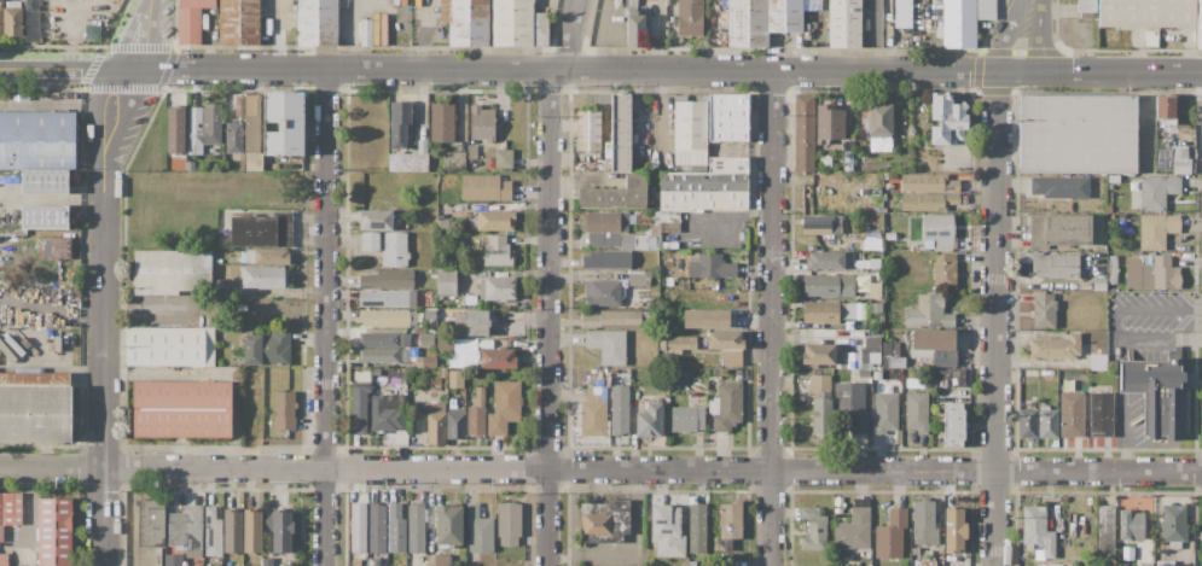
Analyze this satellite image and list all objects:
building: (1086, 5)
building: (985, 10)
building: (902, 13)
building: (1146, 13)
building: (784, 16)
building: (12, 17)
building: (690, 18)
building: (1, 21)
building: (30, 21)
building: (190, 21)
building: (239, 22)
building: (318, 22)
building: (468, 22)
building: (747, 23)
building: (844, 23)
building: (959, 23)
building: (518, 24)
building: (1198, 24)
building: (634, 25)
building: (366, 31)
road: (141, 35)
road: (1028, 41)
road: (140, 47)
road: (82, 53)
road: (164, 68)
road: (91, 69)
road: (63, 70)
road: (561, 71)
road: (1098, 72)
road: (121, 88)
building: (238, 106)
building: (1166, 109)
building: (727, 118)
building: (946, 118)
building: (442, 121)
building: (879, 121)
building: (250, 122)
building: (284, 123)
building: (482, 123)
building: (829, 123)
building: (400, 124)
building: (207, 127)
building: (175, 128)
building: (588, 130)
building: (621, 132)
building: (691, 133)
building: (803, 133)
building: (1076, 134)
building: (233, 136)
building: (36, 140)
building: (472, 151)
building: (504, 158)
building: (252, 161)
building: (454, 161)
building: (407, 162)
building: (1181, 167)
building: (45, 181)
building: (928, 182)
building: (1059, 186)
building: (484, 187)
building: (707, 187)
building: (870, 191)
building: (1157, 191)
building: (615, 194)
road: (52, 198)
building: (928, 202)
building: (871, 206)
building: (45, 217)
building: (377, 220)
building: (494, 220)
building: (606, 222)
building: (669, 222)
building: (821, 223)
building: (939, 229)
building: (1059, 229)
building: (1157, 229)
building: (261, 231)
building: (664, 237)
building: (604, 239)
building: (370, 241)
building: (638, 241)
building: (669, 245)
building: (872, 245)
building: (58, 249)
building: (394, 250)
building: (42, 251)
building: (498, 251)
building: (265, 256)
building: (608, 259)
building: (830, 261)
building: (873, 263)
building: (448, 264)
building: (1055, 266)
building: (712, 267)
building: (1113, 269)
building: (172, 272)
building: (219, 272)
building: (943, 272)
building: (1166, 273)
building: (1138, 274)
building: (265, 276)
building: (388, 279)
building: (639, 279)
road: (548, 280)
building: (446, 281)
building: (217, 284)
building: (1099, 284)
building: (828, 285)
building: (498, 287)
building: (25, 292)
building: (228, 293)
building: (603, 293)
building: (387, 298)
building: (652, 304)
road: (147, 305)
building: (1044, 310)
building: (823, 311)
building: (929, 313)
building: (430, 314)
road: (103, 316)
road: (324, 317)
building: (387, 317)
road: (771, 317)
building: (609, 319)
building: (705, 319)
road: (995, 319)
building: (477, 322)
road: (1115, 327)
building: (425, 339)
building: (933, 339)
building: (384, 340)
building: (726, 340)
building: (678, 343)
building: (606, 345)
building: (169, 346)
building: (445, 346)
building: (267, 348)
building: (1056, 348)
building: (872, 349)
building: (823, 354)
building: (381, 355)
building: (492, 358)
building: (945, 360)
building: (426, 362)
building: (896, 363)
building: (1098, 363)
building: (443, 372)
building: (432, 373)
building: (458, 377)
building: (946, 377)
building: (819, 383)
building: (1157, 393)
building: (419, 398)
building: (852, 404)
building: (35, 405)
building: (727, 405)
building: (504, 407)
building: (180, 408)
building: (359, 408)
building: (284, 409)
building: (620, 409)
building: (593, 412)
building: (885, 412)
building: (916, 412)
building: (477, 414)
building: (1072, 414)
building: (1102, 414)
building: (385, 415)
building: (820, 415)
building: (687, 419)
building: (649, 420)
building: (455, 422)
building: (436, 424)
building: (1028, 424)
building: (1049, 424)
building: (954, 425)
road: (1125, 434)
road: (600, 468)
building: (8, 510)
building: (431, 519)
building: (151, 521)
building: (604, 521)
building: (923, 521)
building: (1131, 523)
building: (448, 524)
building: (509, 524)
building: (1173, 525)
building: (358, 527)
building: (395, 527)
building: (697, 527)
building: (283, 529)
building: (377, 529)
building: (416, 529)
building: (728, 529)
building: (854, 529)
building: (185, 530)
building: (252, 530)
building: (478, 530)
building: (813, 530)
building: (953, 530)
building: (1105, 530)
building: (53, 531)
building: (232, 531)
building: (667, 531)
building: (1036, 531)
building: (211, 533)
building: (890, 535)
building: (157, 556)
building: (4, 559)
building: (173, 559)
building: (437, 560)
building: (924, 564)
building: (1165, 564)
building: (640, 565)
building: (867, 565)

